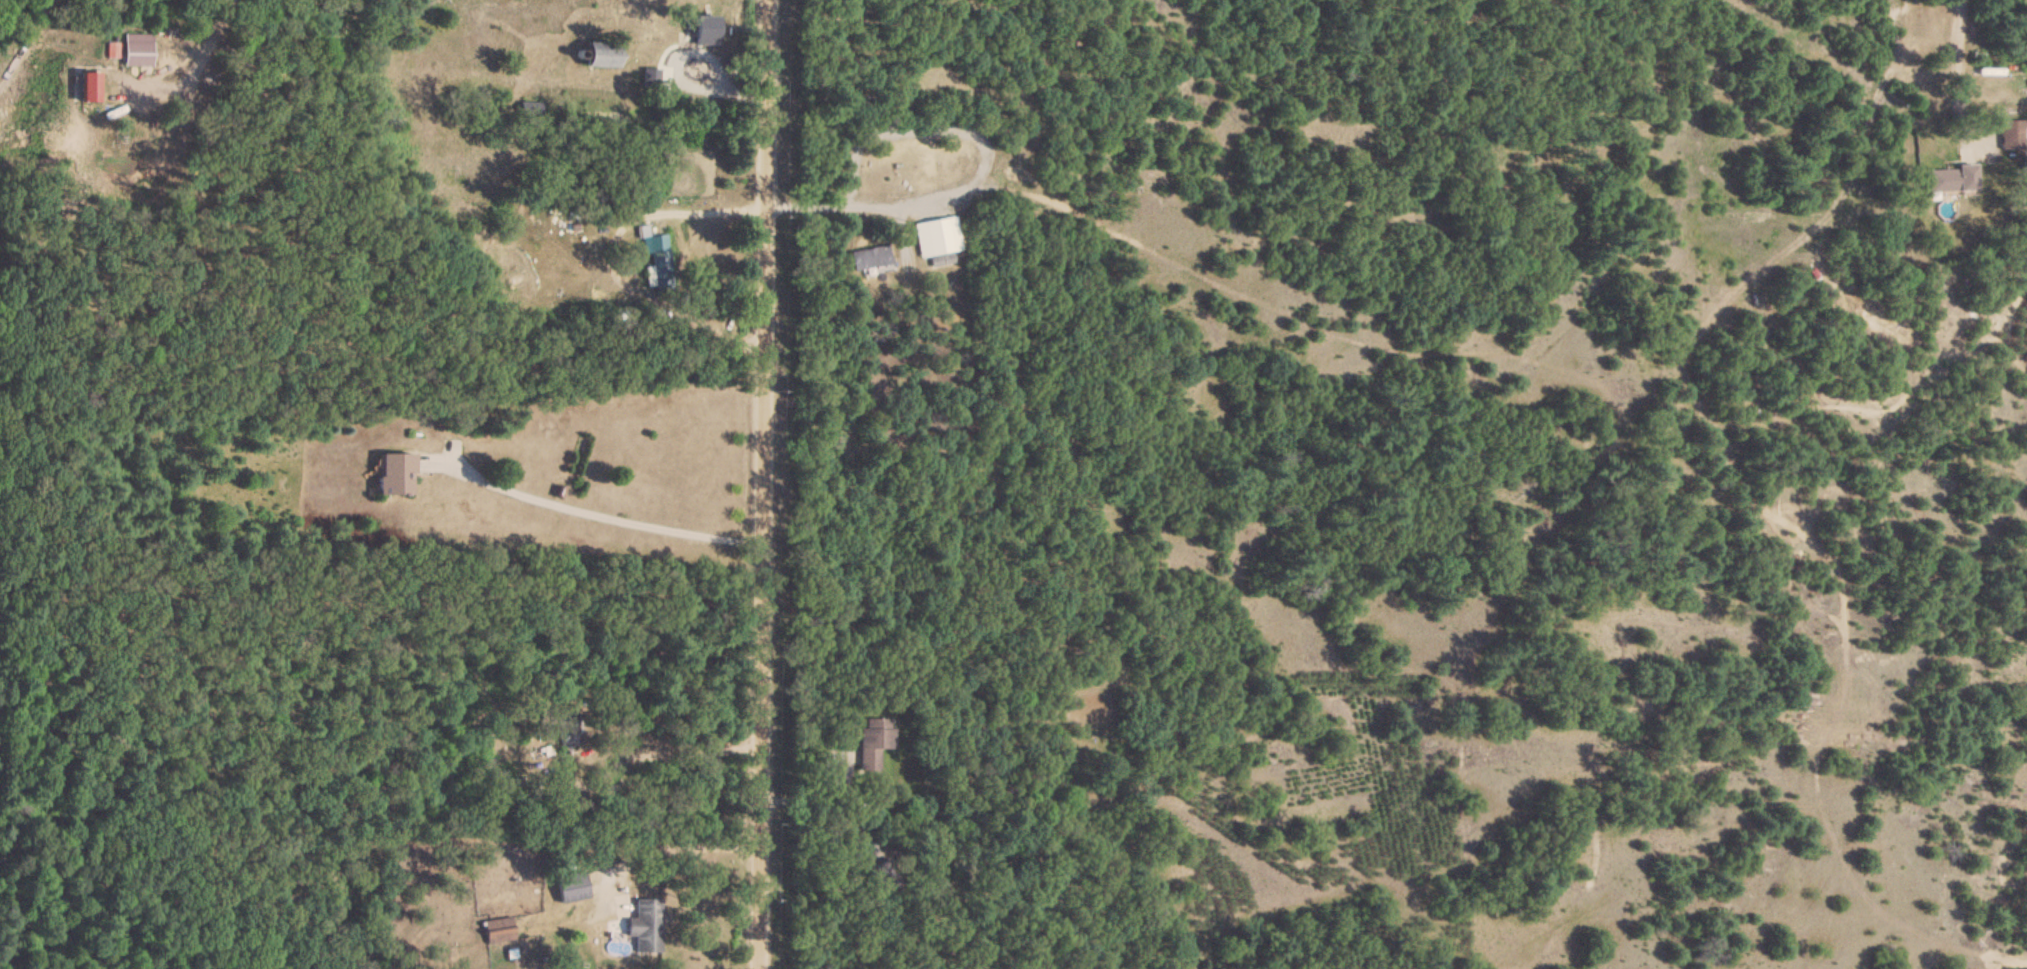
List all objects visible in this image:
road: (217, 14)
building: (704, 34)
road: (24, 37)
building: (112, 54)
building: (136, 54)
building: (597, 59)
road: (1961, 64)
building: (651, 75)
building: (86, 92)
building: (606, 123)
building: (2013, 139)
road: (976, 175)
building: (1949, 183)
road: (705, 216)
building: (936, 239)
building: (655, 247)
building: (868, 261)
building: (391, 476)
road: (760, 484)
road: (611, 519)
building: (566, 729)
building: (873, 745)
road: (680, 852)
building: (569, 890)
building: (645, 929)
building: (496, 933)

